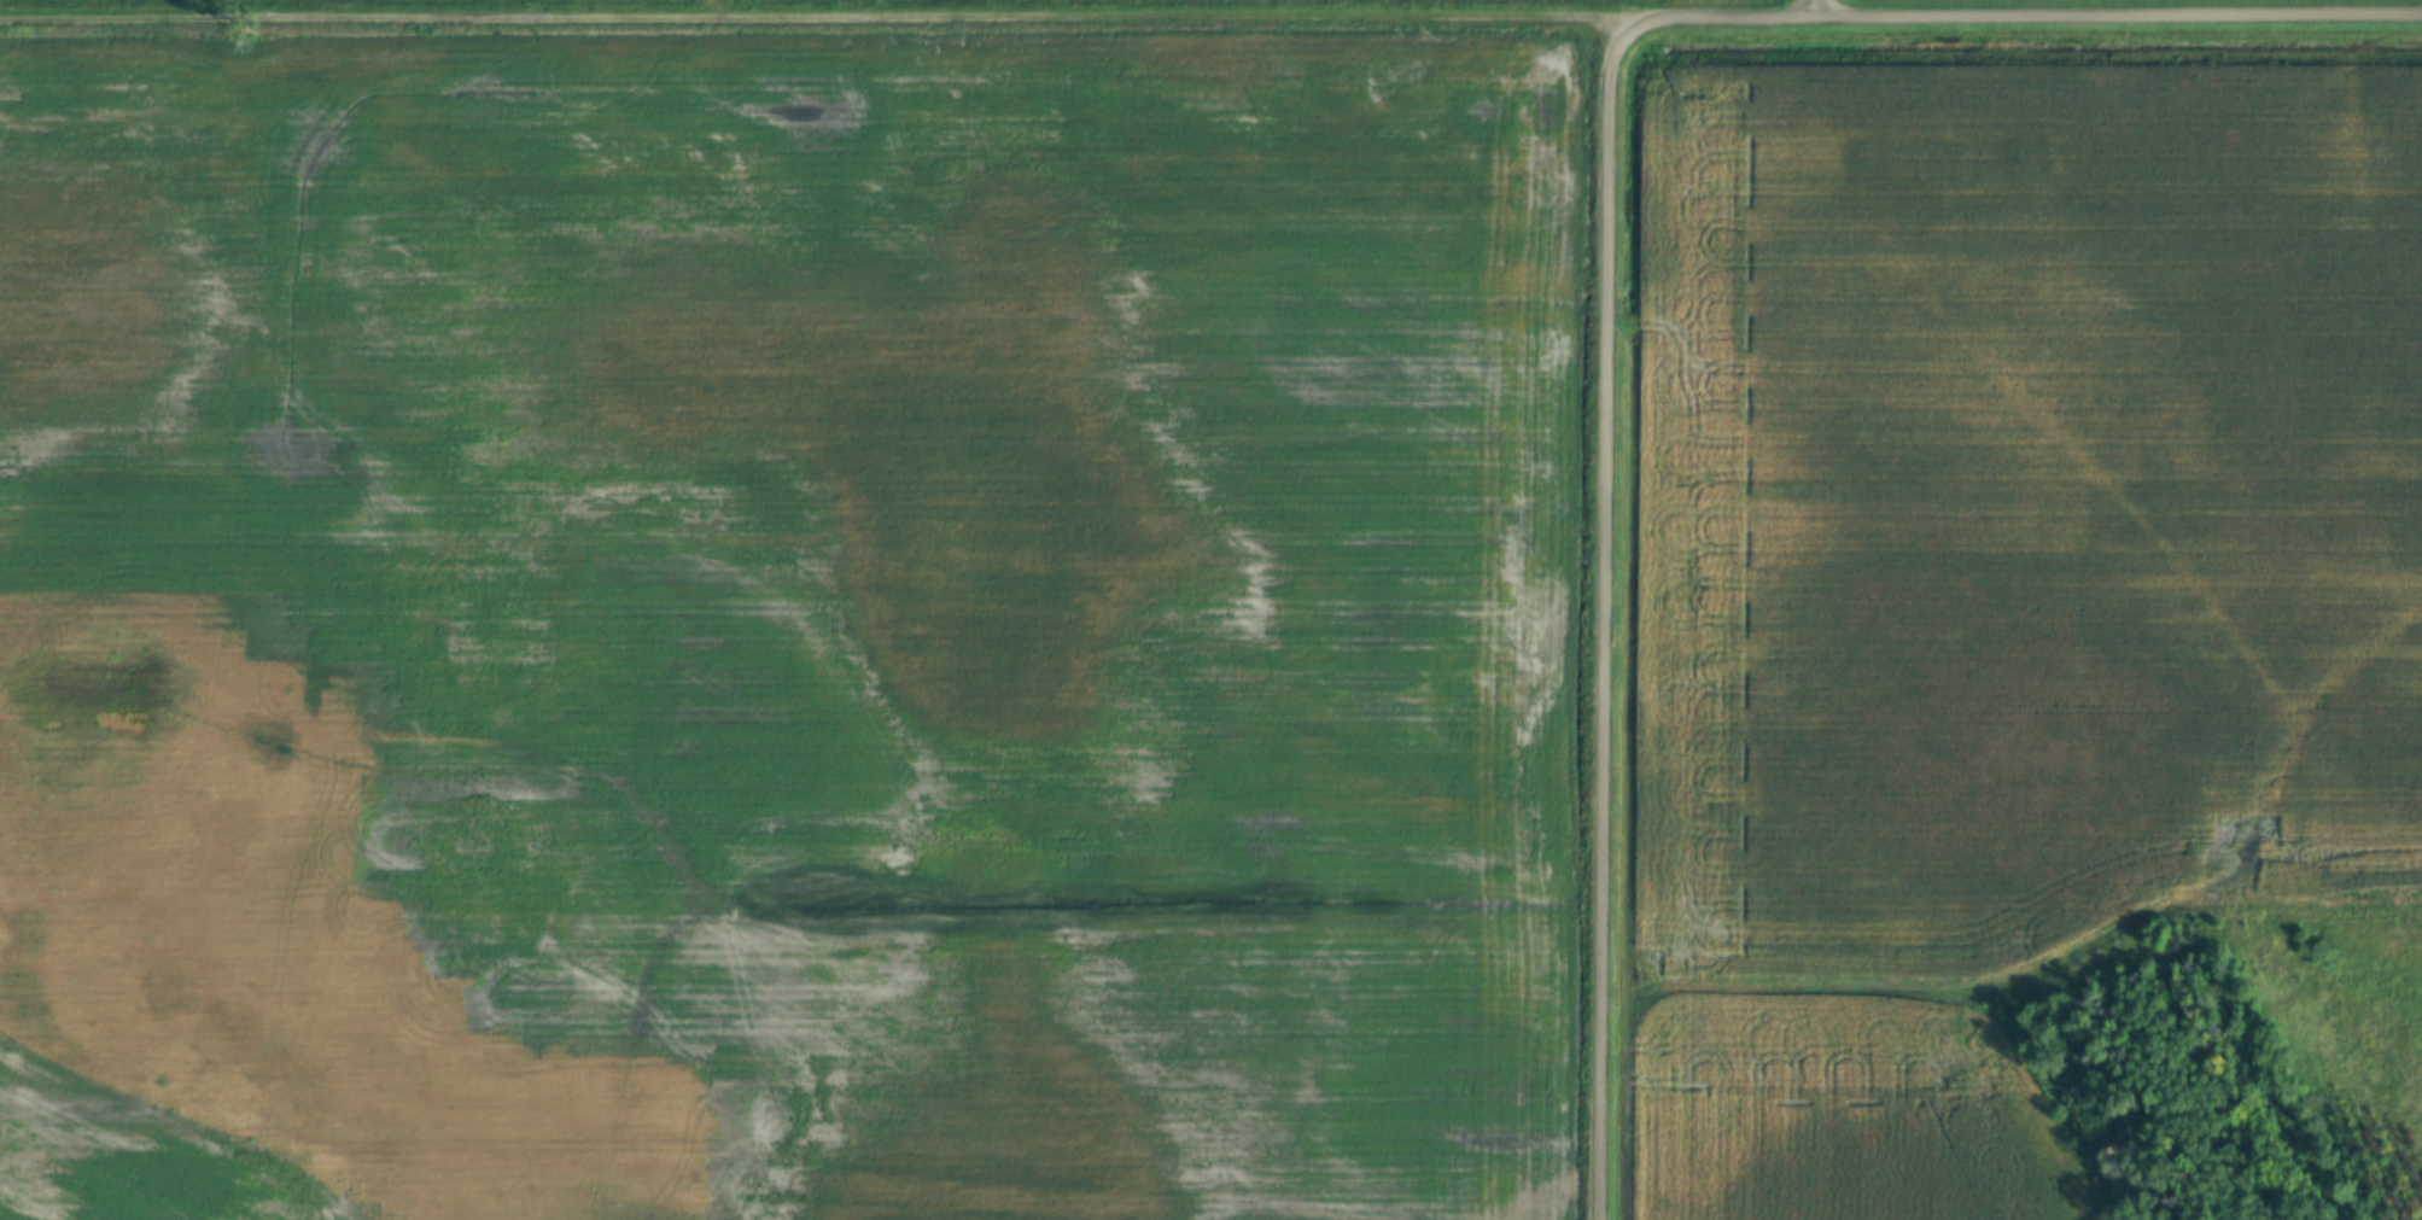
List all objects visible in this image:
road: (1819, 8)
road: (812, 14)
road: (2021, 16)
road: (1611, 620)

